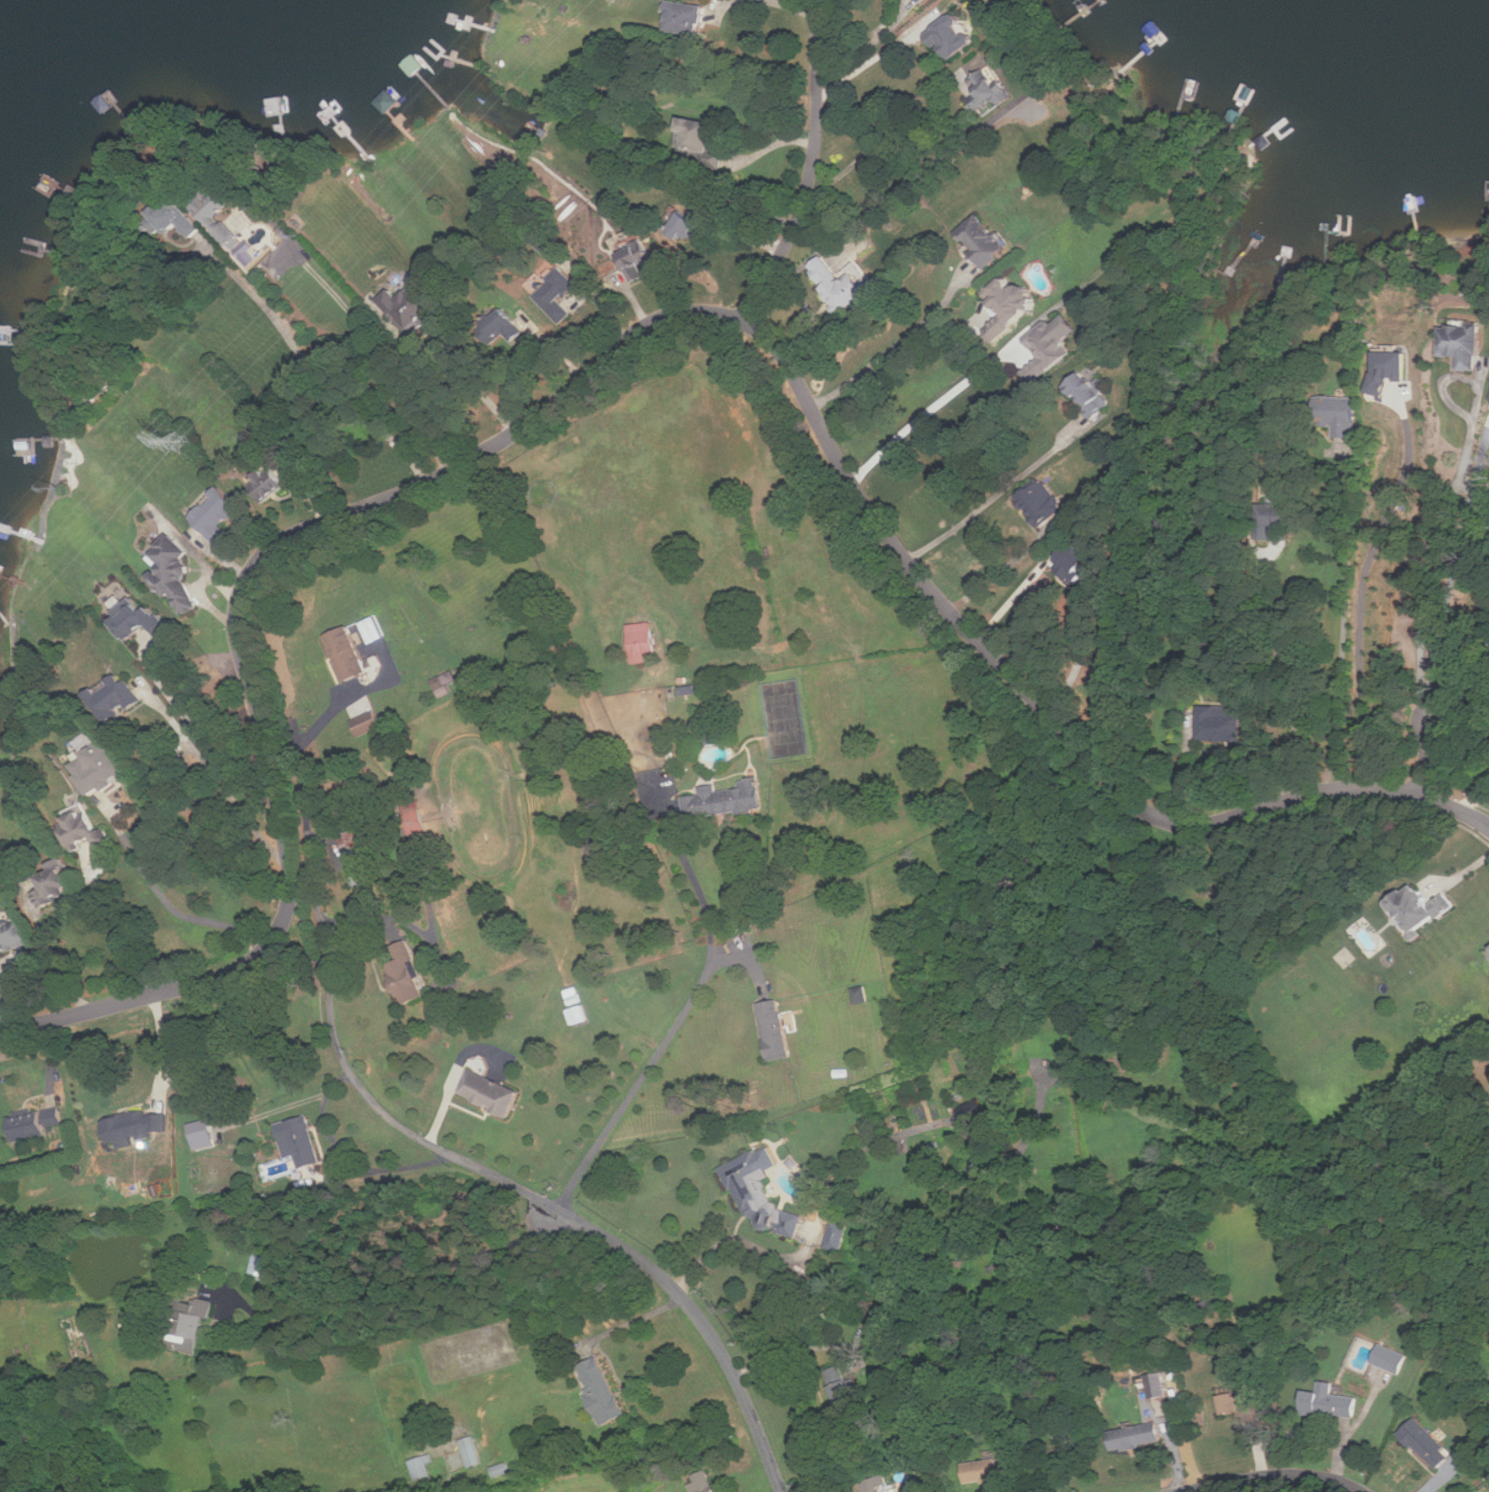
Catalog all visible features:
building: (923, 1)
road: (789, 8)
building: (688, 18)
building: (953, 34)
road: (866, 46)
road: (869, 64)
building: (988, 89)
building: (387, 100)
building: (696, 132)
road: (874, 140)
road: (811, 168)
building: (215, 218)
building: (984, 240)
building: (635, 255)
building: (841, 284)
building: (556, 289)
building: (1014, 297)
building: (413, 305)
road: (627, 340)
building: (1463, 344)
building: (1051, 345)
road: (893, 348)
road: (378, 355)
road: (892, 368)
building: (1389, 369)
road: (314, 370)
road: (468, 379)
building: (1090, 394)
road: (931, 411)
building: (1343, 419)
power tower: (184, 439)
road: (989, 496)
building: (1045, 502)
building: (219, 514)
road: (1431, 552)
building: (1074, 560)
building: (176, 574)
road: (999, 574)
road: (1450, 581)
road: (1359, 597)
road: (1010, 602)
building: (142, 620)
road: (1344, 636)
building: (643, 642)
building: (347, 653)
road: (1460, 681)
building: (443, 683)
building: (695, 689)
building: (116, 698)
road: (1463, 705)
building: (369, 723)
building: (1220, 723)
road: (204, 742)
road: (1425, 758)
building: (100, 767)
road: (1184, 768)
road: (216, 778)
road: (1472, 793)
building: (726, 800)
building: (84, 830)
building: (356, 859)
building: (55, 884)
road: (162, 897)
building: (1422, 909)
road: (406, 920)
road: (111, 928)
building: (19, 940)
road: (49, 952)
building: (407, 975)
building: (860, 994)
road: (675, 1021)
building: (776, 1030)
road: (160, 1048)
building: (491, 1092)
building: (36, 1122)
road: (402, 1127)
building: (134, 1128)
building: (203, 1134)
building: (300, 1140)
road: (351, 1155)
building: (759, 1192)
building: (837, 1235)
building: (267, 1266)
road: (398, 1283)
building: (186, 1324)
road: (632, 1324)
road: (798, 1350)
building: (1390, 1359)
building: (1157, 1385)
building: (845, 1390)
building: (601, 1391)
building: (1330, 1402)
building: (1242, 1405)
building: (1137, 1437)
building: (1428, 1444)
building: (471, 1451)
building: (424, 1468)
building: (982, 1471)
road: (1279, 1475)
road: (1444, 1475)
building: (705, 1481)
building: (876, 1485)

